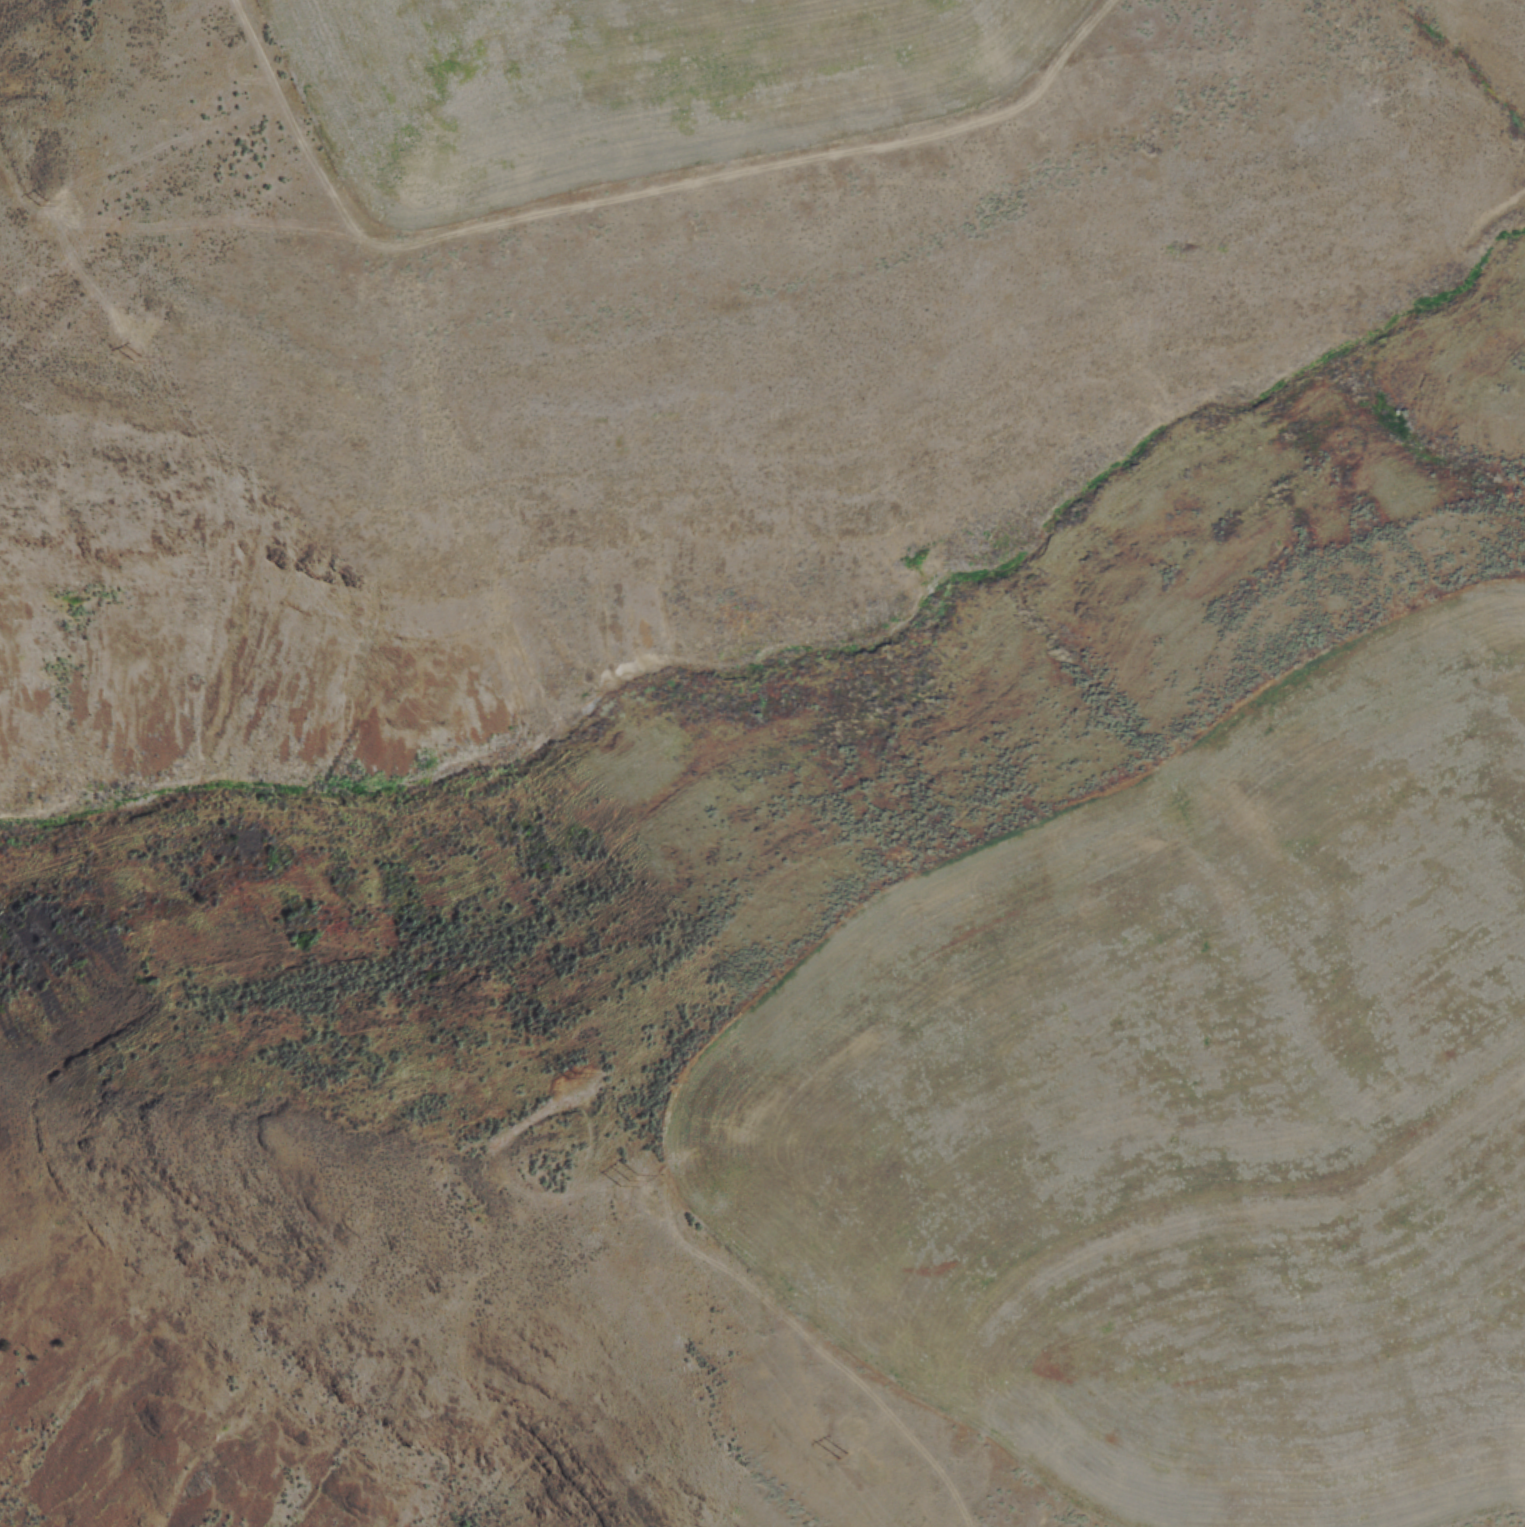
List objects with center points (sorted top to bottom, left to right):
power tower: (45, 202)
power tower: (141, 357)
power tower: (462, 752)
power tower: (569, 1073)
power tower: (628, 1179)
power tower: (848, 1455)

